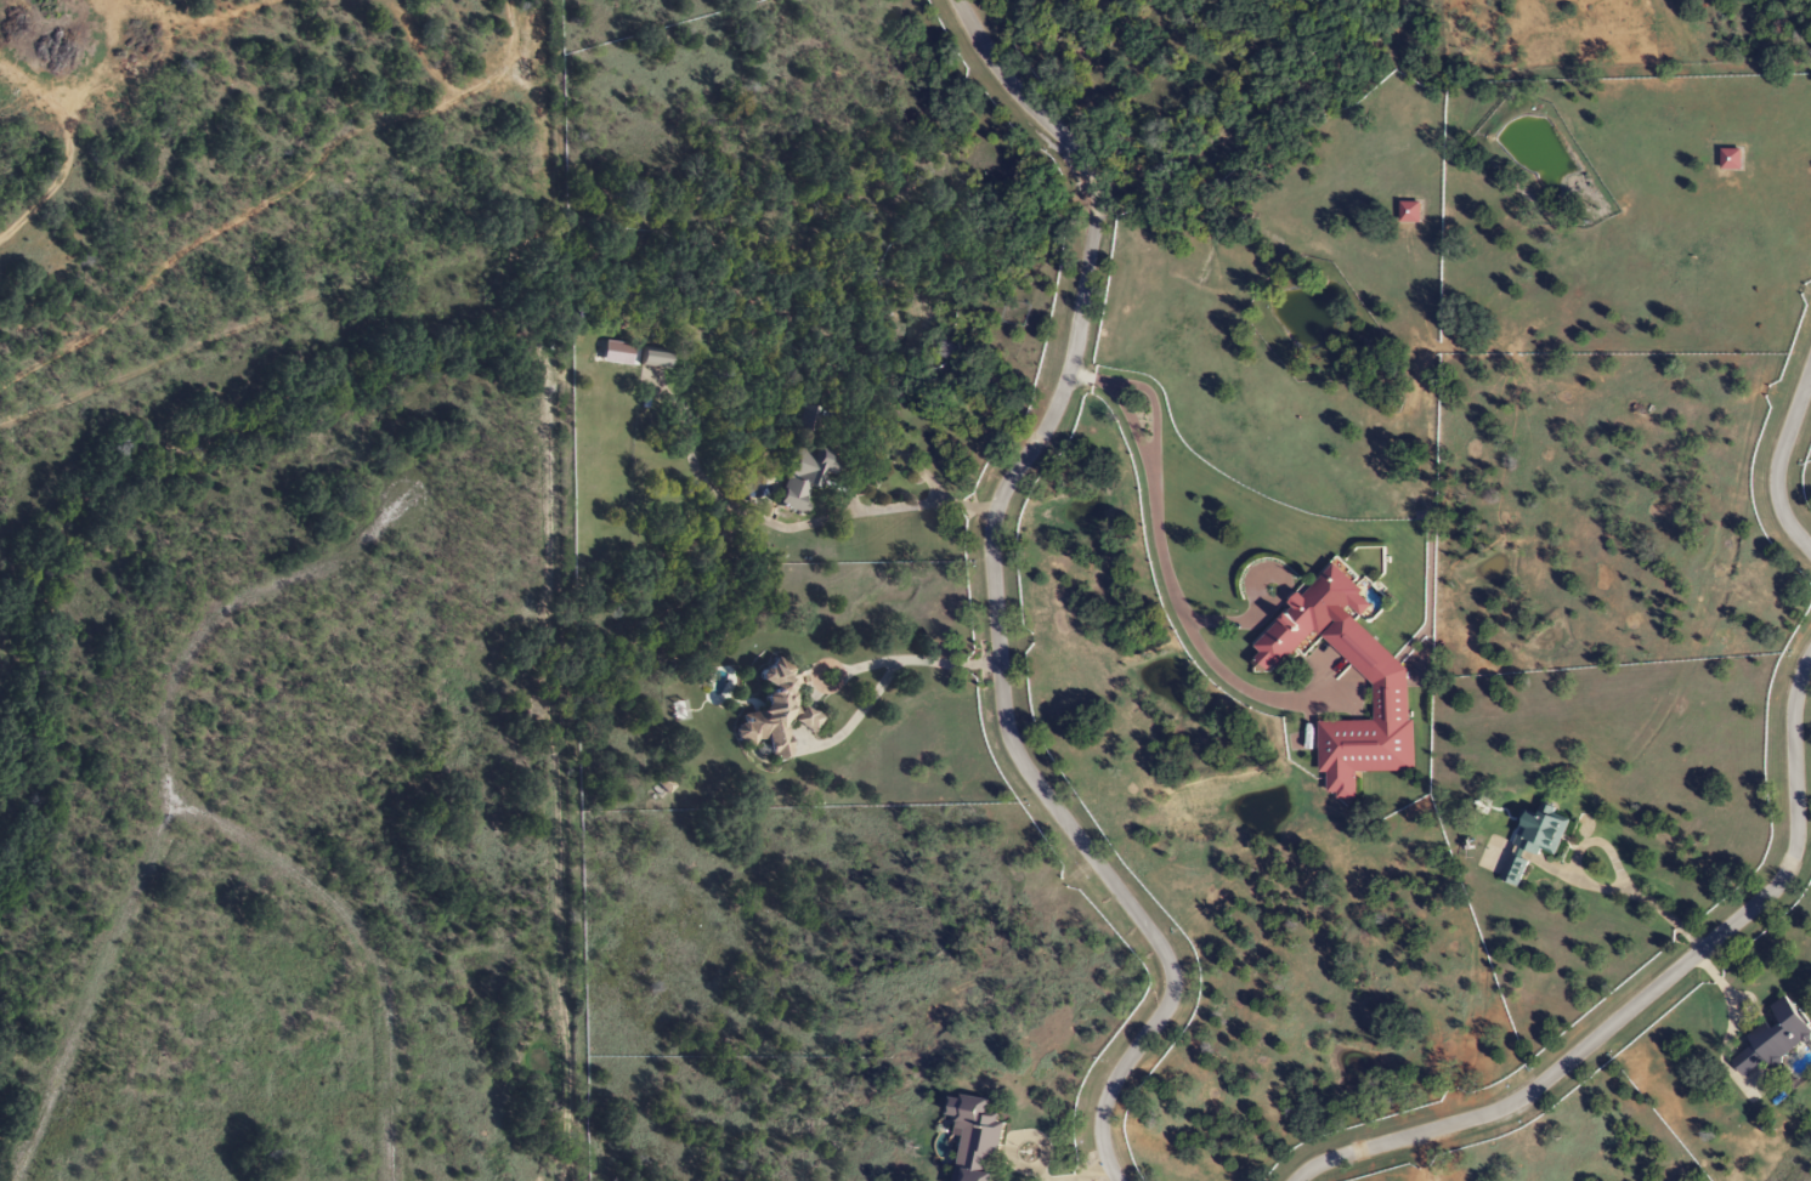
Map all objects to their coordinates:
building: (1730, 159)
building: (1409, 212)
building: (652, 360)
building: (800, 419)
road: (1777, 461)
building: (800, 477)
road: (995, 595)
road: (221, 613)
building: (1386, 677)
building: (776, 716)
building: (1534, 840)
road: (367, 943)
road: (94, 994)
road: (1648, 994)
building: (1775, 1038)
building: (977, 1137)

